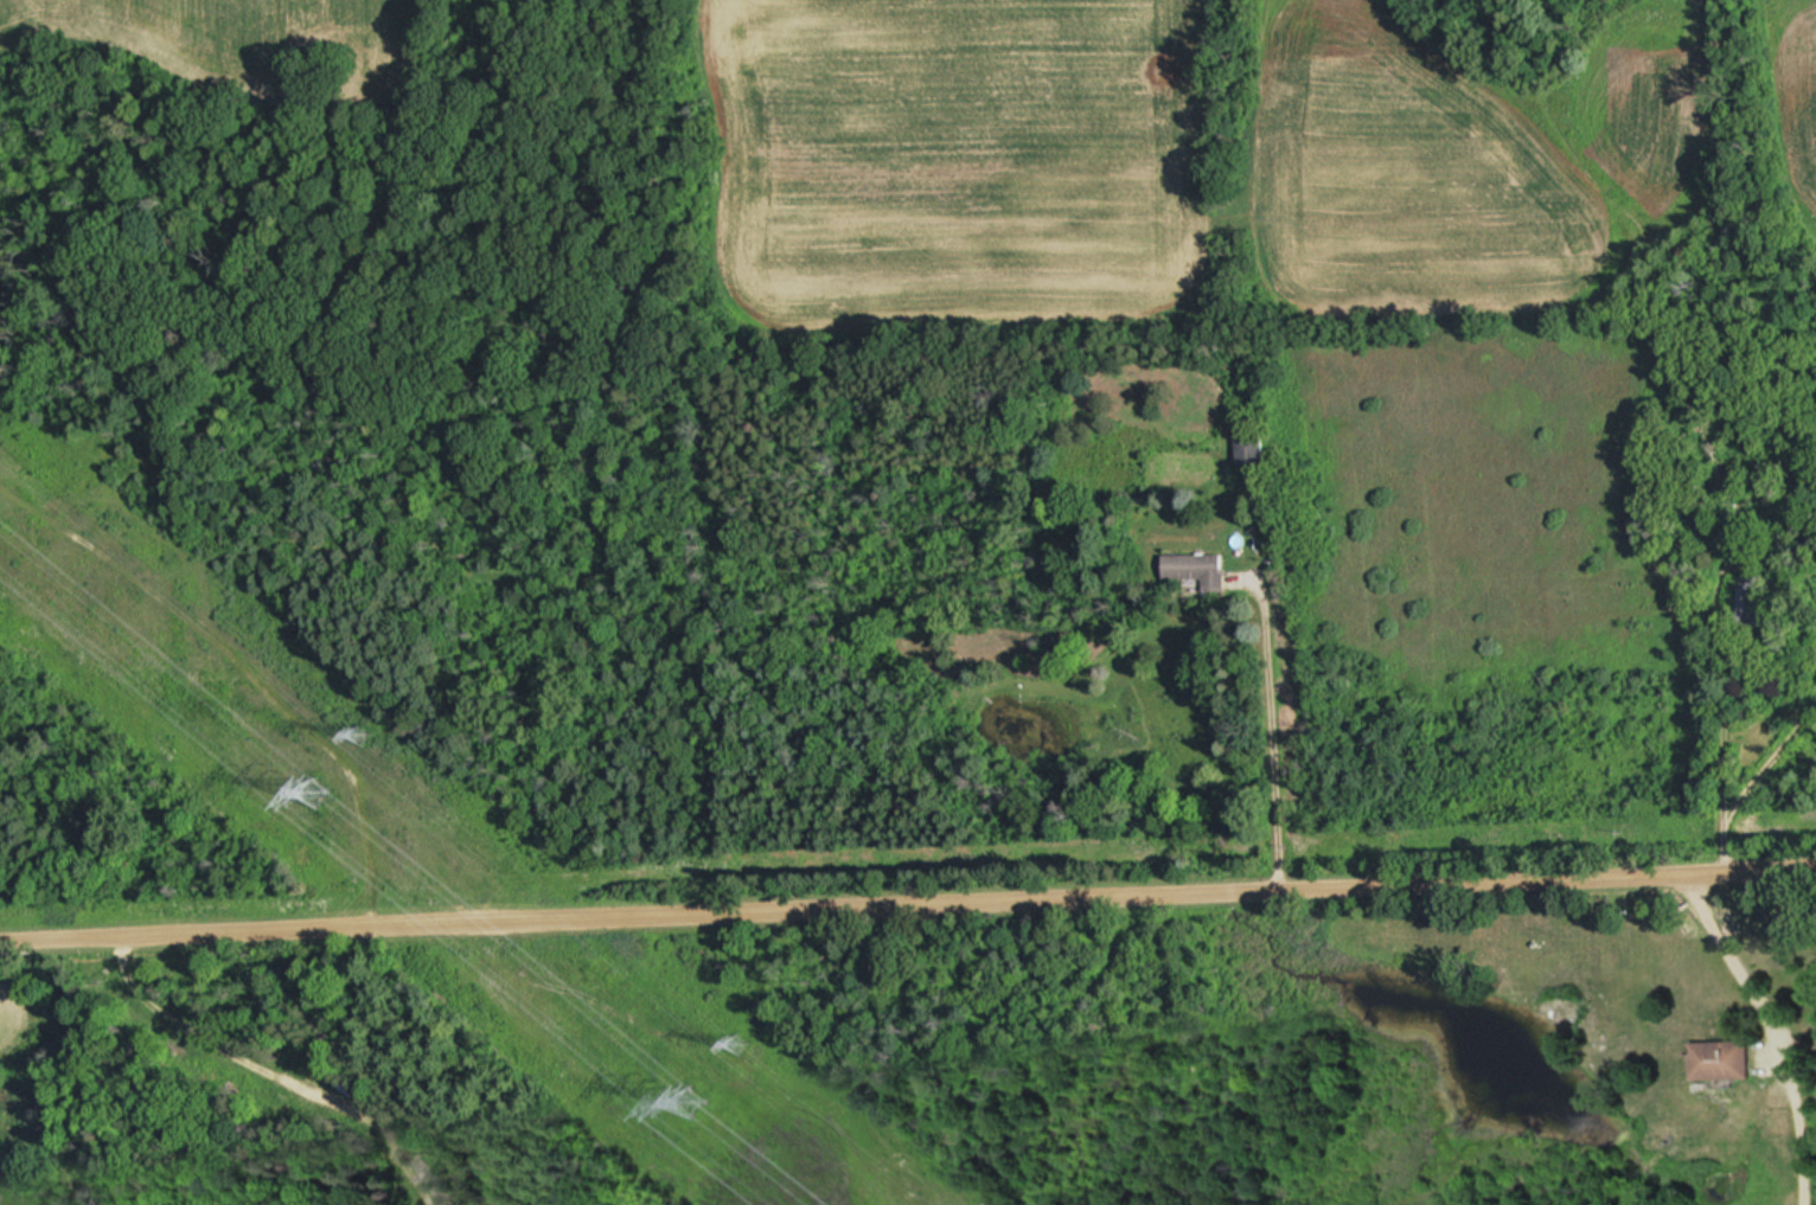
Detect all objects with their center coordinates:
building: (1247, 446)
building: (1195, 568)
building: (1750, 597)
road: (1720, 701)
road: (1274, 730)
power tower: (359, 733)
road: (1758, 781)
power tower: (313, 788)
building: (1677, 818)
road: (908, 899)
road: (1772, 1026)
power tower: (737, 1043)
building: (1721, 1057)
power tower: (690, 1097)

